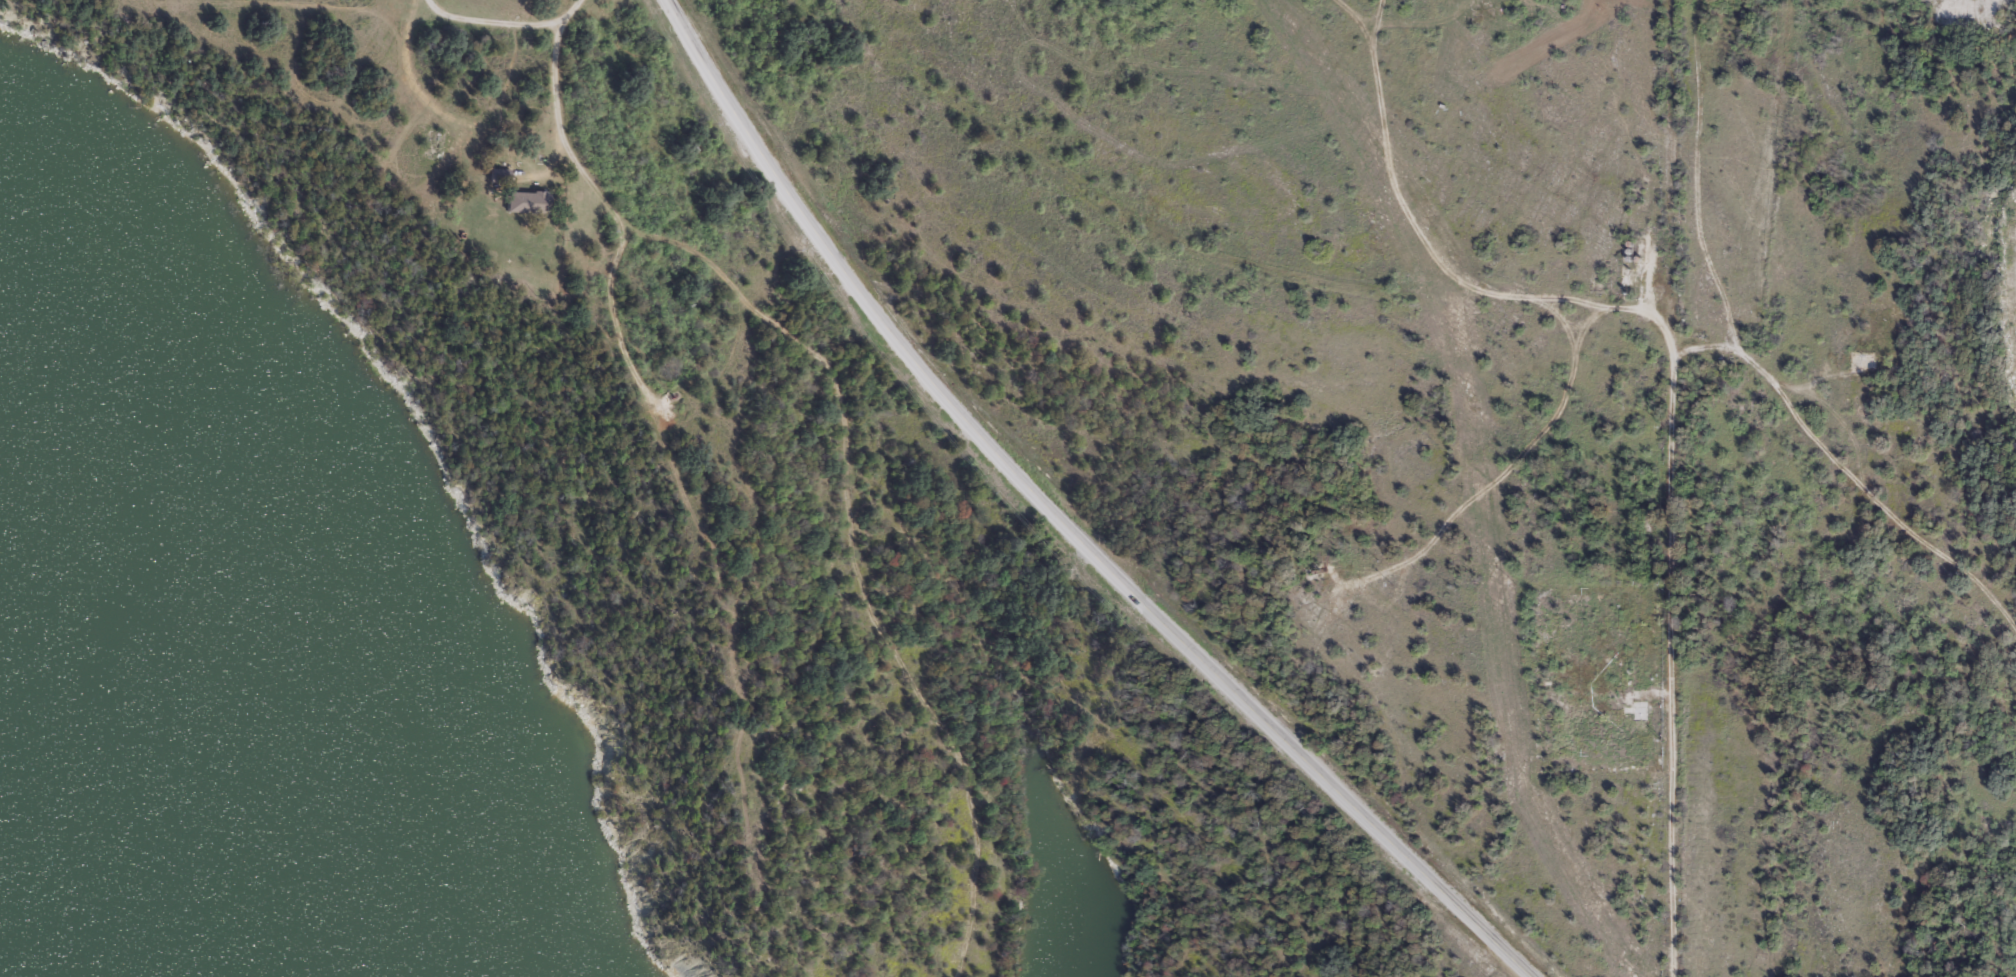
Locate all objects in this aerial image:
road: (495, 20)
road: (1378, 25)
road: (556, 116)
building: (500, 174)
road: (1698, 177)
building: (528, 201)
road: (1407, 213)
road: (1587, 304)
road: (613, 312)
road: (1738, 349)
road: (1506, 471)
road: (1890, 515)
road: (1060, 521)
road: (852, 557)
road: (1672, 639)

